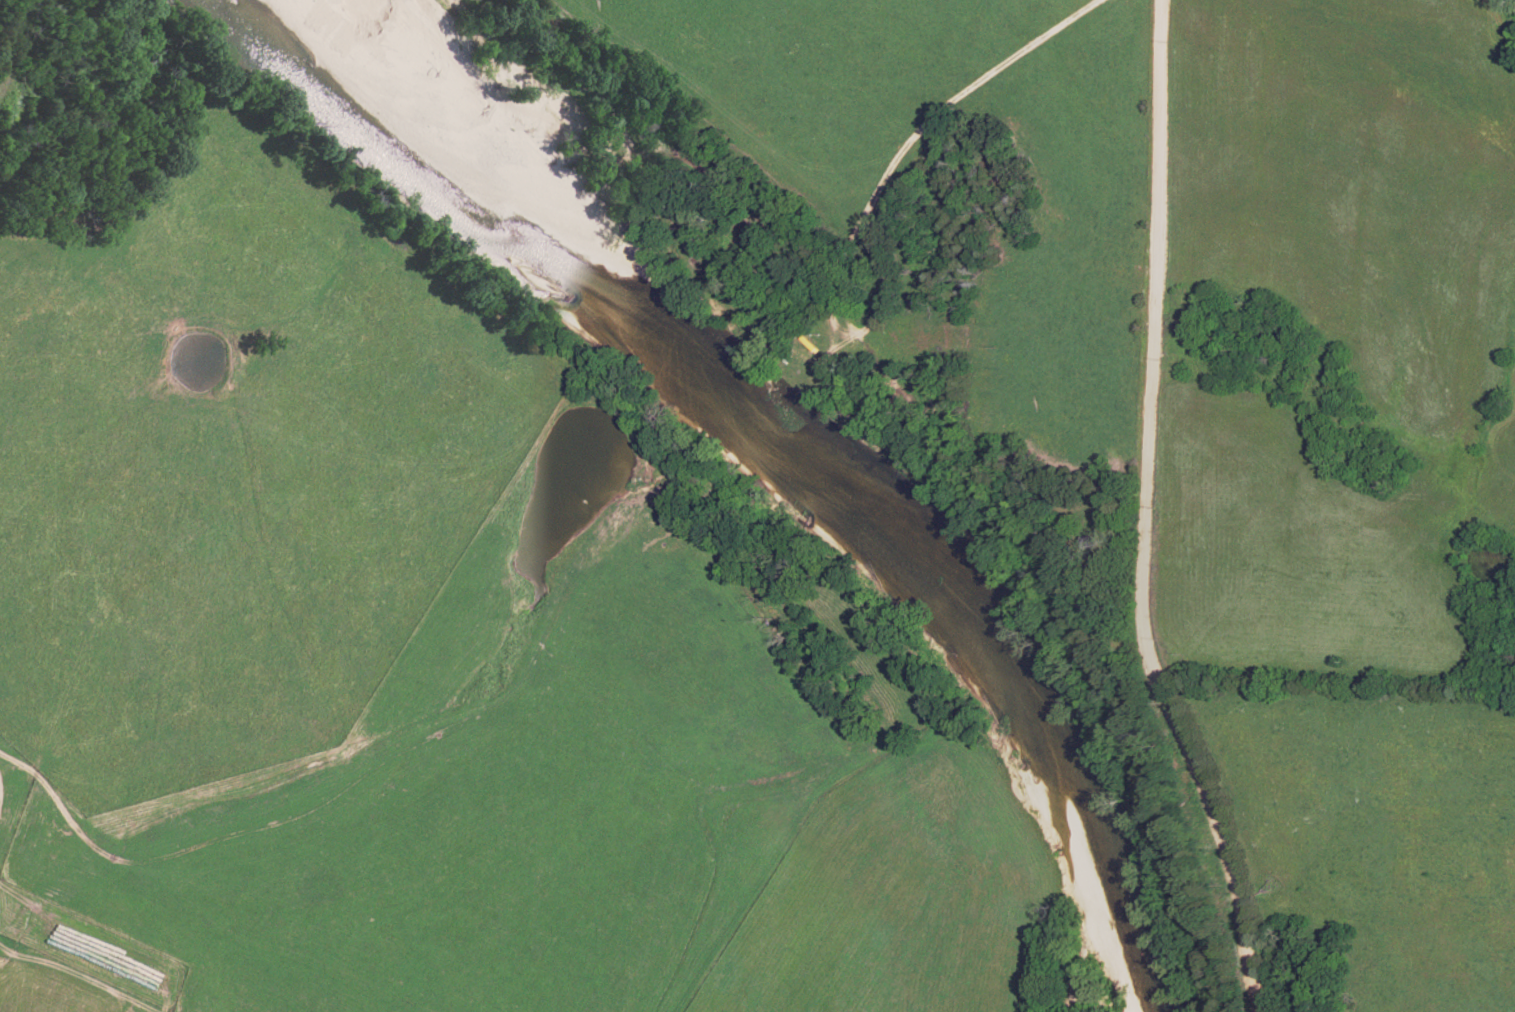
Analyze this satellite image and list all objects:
river: (793, 441)
road: (1145, 521)
road: (150, 850)

